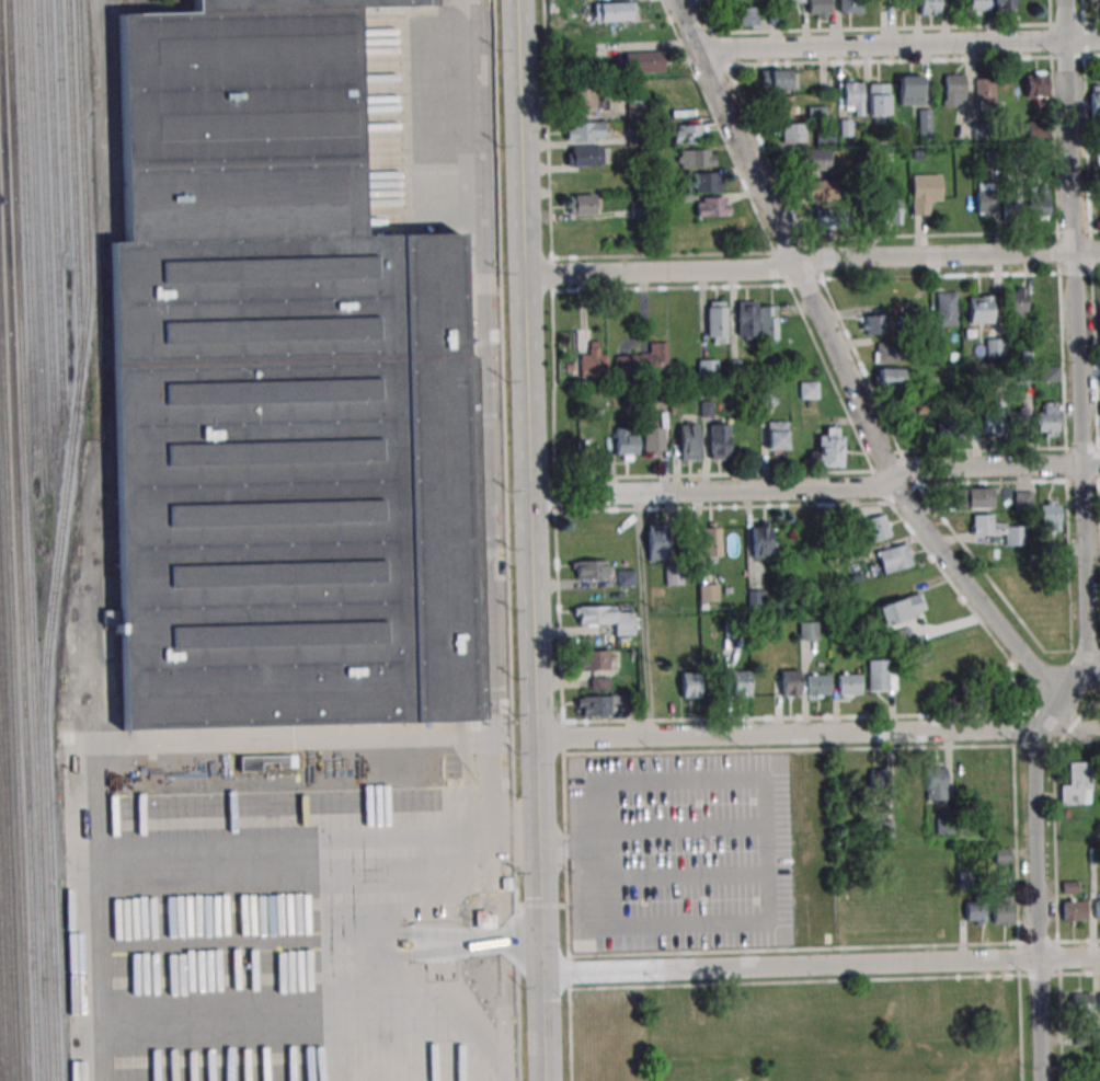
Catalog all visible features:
building: (792, 1)
building: (1093, 1)
building: (902, 2)
building: (1004, 4)
building: (850, 5)
building: (977, 5)
building: (929, 7)
building: (818, 9)
building: (614, 11)
building: (746, 16)
road: (902, 43)
building: (644, 60)
building: (777, 79)
building: (1035, 83)
building: (910, 90)
building: (953, 90)
building: (985, 93)
building: (853, 95)
building: (879, 100)
building: (1095, 100)
building: (584, 102)
building: (782, 106)
building: (635, 110)
railway: (62, 114)
building: (845, 127)
building: (1036, 129)
building: (584, 131)
building: (793, 133)
building: (689, 134)
building: (583, 156)
building: (695, 158)
building: (813, 160)
building: (583, 180)
building: (708, 182)
railway: (75, 185)
building: (822, 188)
building: (925, 193)
building: (986, 199)
building: (1039, 202)
building: (583, 204)
building: (1011, 204)
building: (712, 206)
building: (891, 206)
railway: (55, 208)
building: (829, 218)
railway: (46, 220)
railway: (26, 226)
railway: (36, 226)
road: (809, 264)
building: (1017, 303)
building: (946, 308)
building: (979, 309)
building: (746, 319)
building: (717, 320)
building: (768, 322)
building: (875, 324)
building: (1099, 326)
building: (995, 347)
building: (887, 353)
building: (593, 361)
building: (643, 363)
road: (839, 367)
building: (708, 368)
building: (1047, 372)
building: (890, 377)
building: (279, 390)
building: (809, 390)
building: (992, 416)
building: (942, 419)
building: (1047, 419)
building: (1019, 421)
building: (776, 435)
building: (651, 438)
building: (718, 440)
building: (688, 441)
building: (626, 444)
building: (827, 448)
road: (815, 494)
building: (974, 497)
building: (1021, 502)
building: (1049, 513)
building: (876, 527)
building: (1002, 530)
building: (710, 539)
railway: (27, 540)
railway: (60, 540)
road: (492, 540)
road: (528, 540)
building: (760, 540)
building: (656, 542)
road: (1082, 549)
building: (894, 557)
building: (588, 570)
building: (673, 576)
railway: (18, 578)
building: (708, 593)
building: (901, 608)
road: (645, 617)
building: (606, 618)
building: (809, 631)
building: (904, 636)
building: (593, 659)
road: (1092, 665)
building: (880, 676)
building: (790, 682)
building: (740, 683)
building: (689, 685)
building: (817, 685)
building: (849, 685)
railway: (13, 695)
building: (593, 705)
road: (784, 736)
road: (276, 755)
building: (285, 760)
building: (843, 780)
building: (876, 780)
building: (936, 781)
building: (1077, 784)
railway: (8, 843)
building: (1096, 909)
building: (1001, 910)
building: (1073, 910)
building: (974, 912)
building: (484, 919)
road: (820, 964)
railway: (2, 973)
building: (1099, 1002)
building: (1079, 1003)
railway: (0, 1079)

